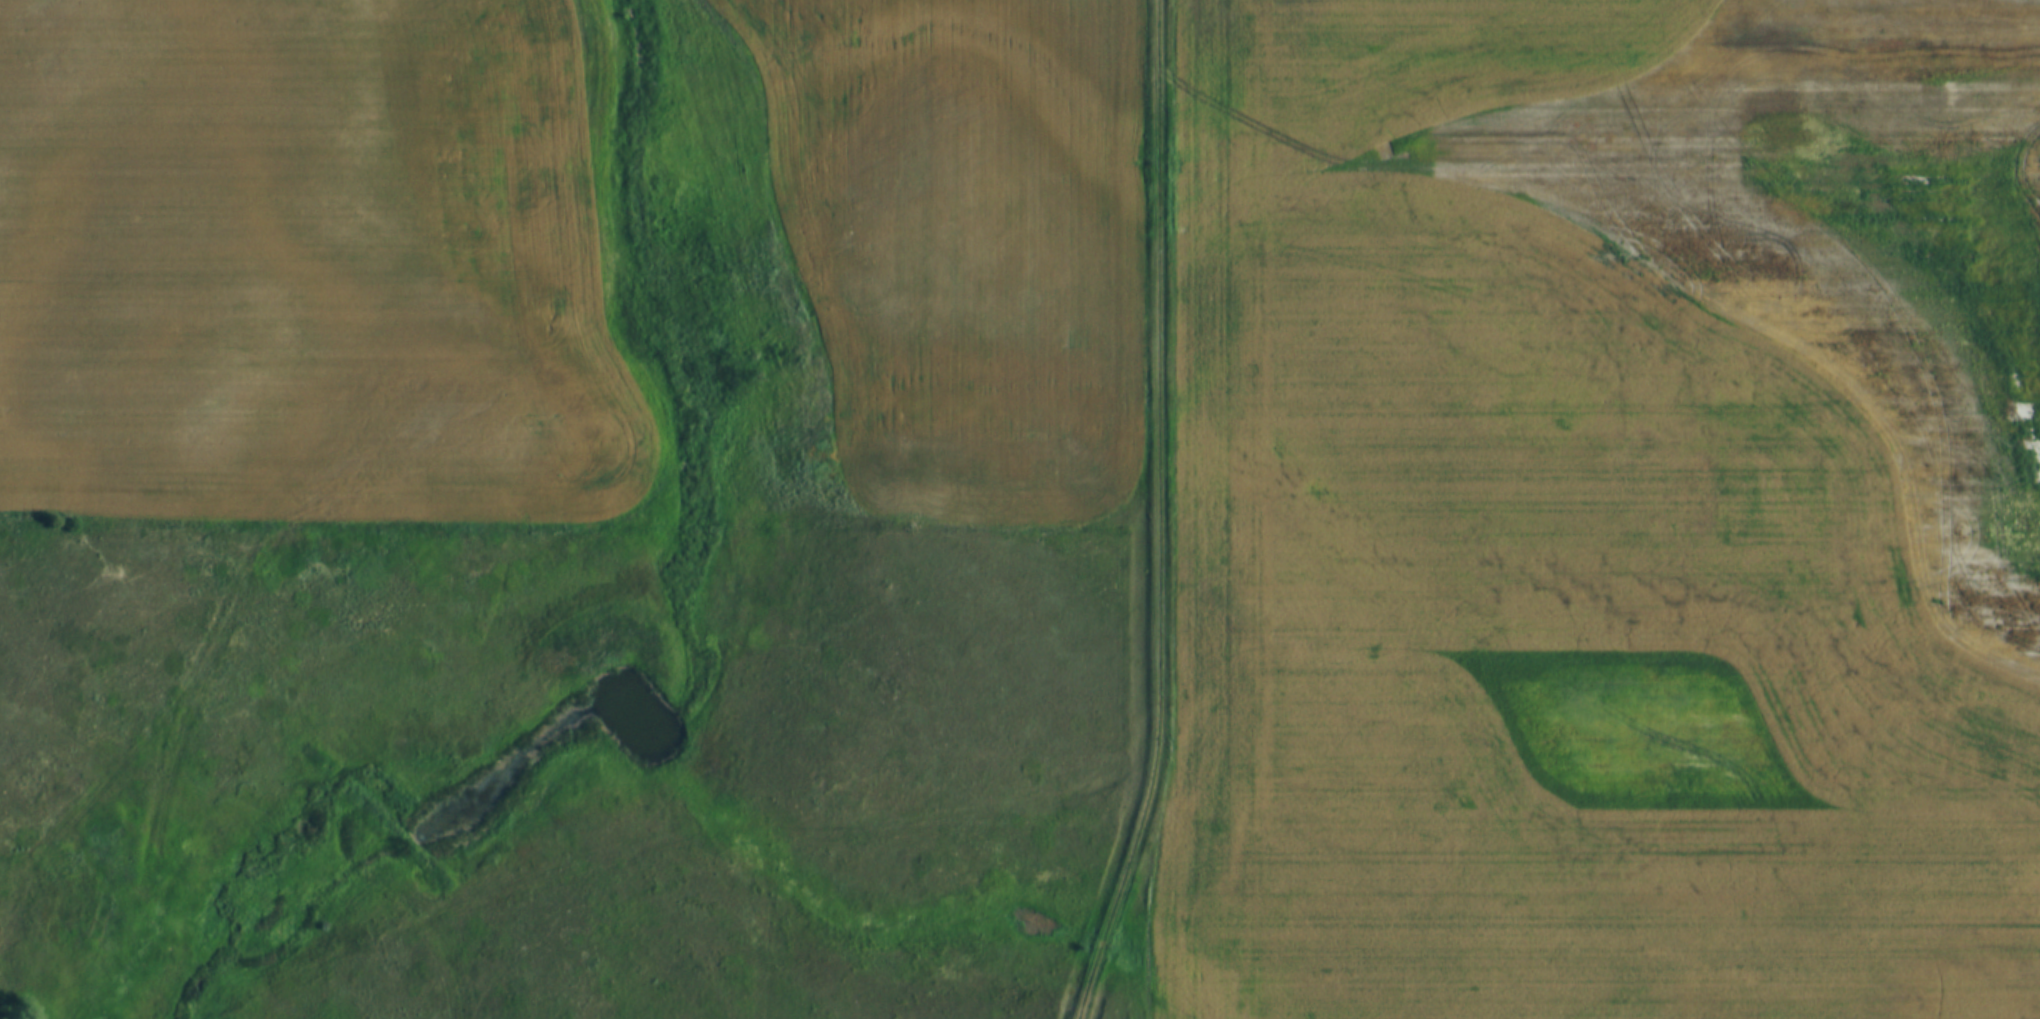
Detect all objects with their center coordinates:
road: (1159, 515)

